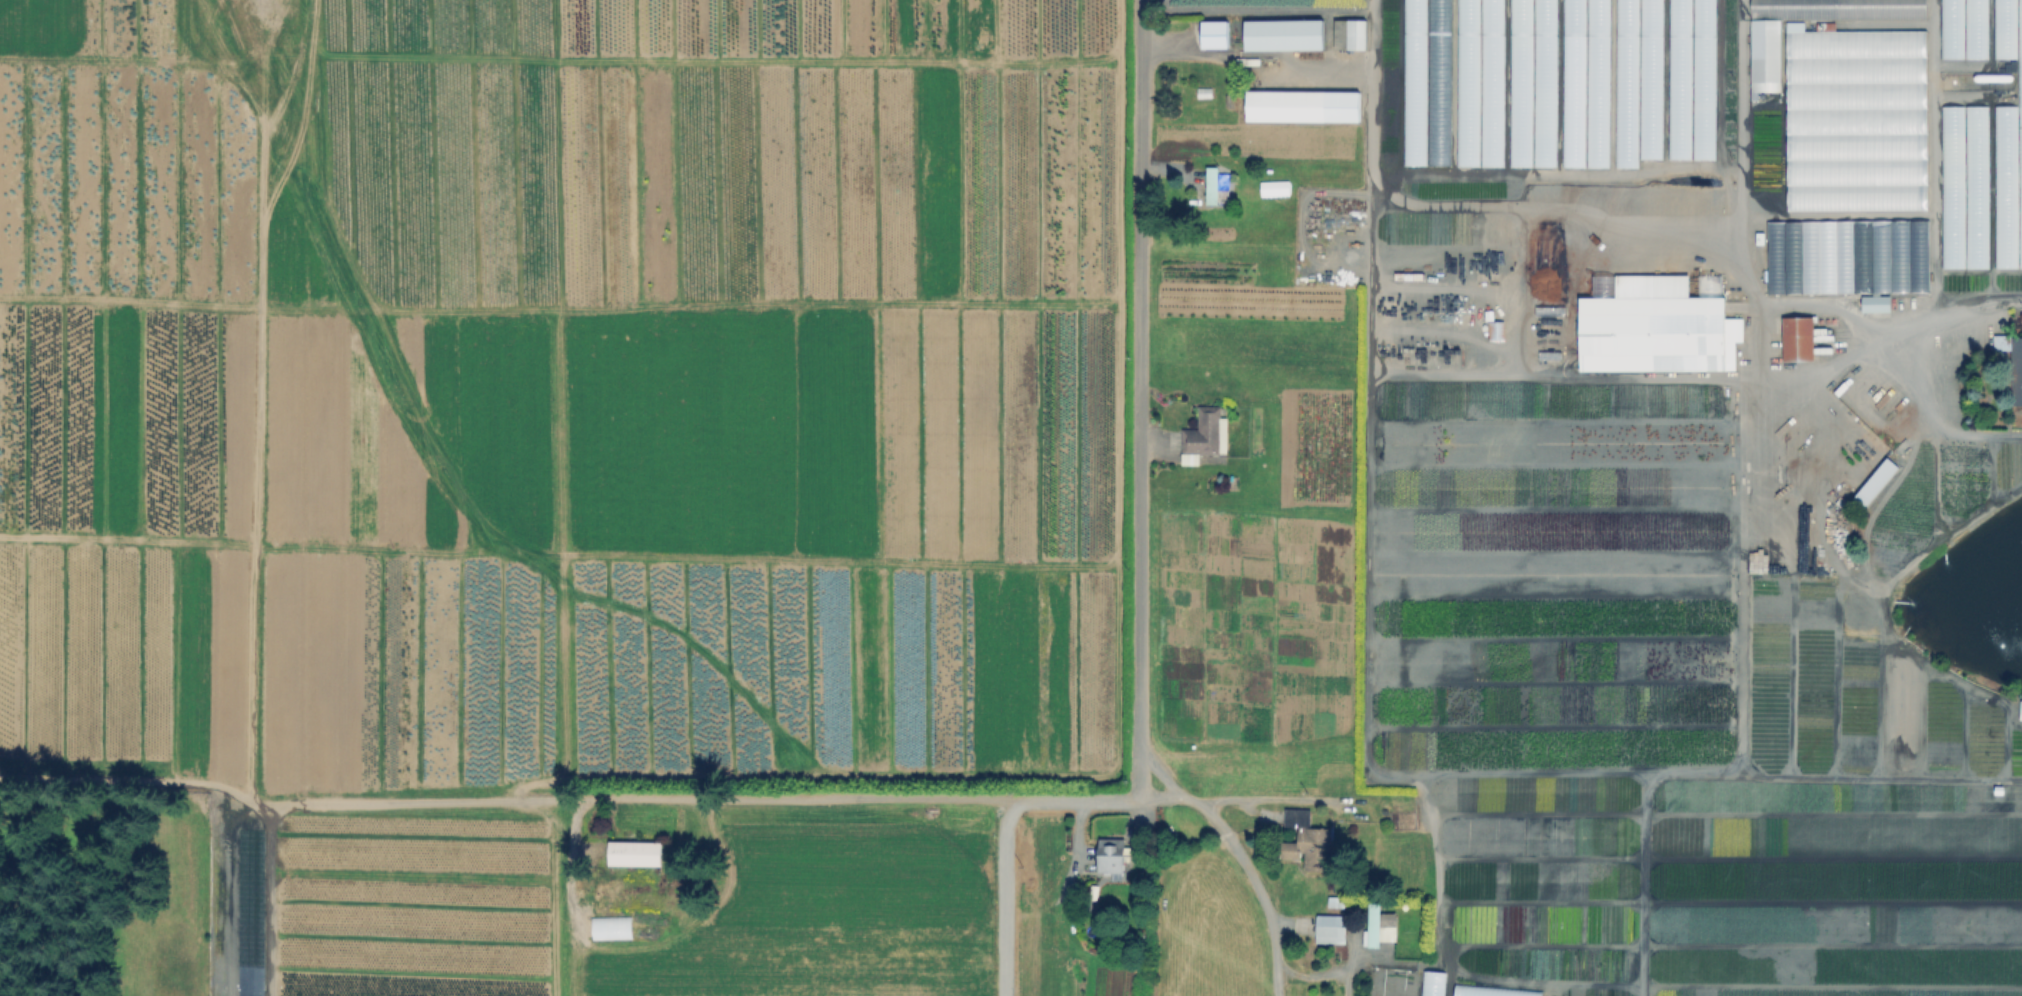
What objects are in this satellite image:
building: (1444, 5)
building: (1838, 9)
building: (1490, 15)
building: (1950, 28)
building: (1973, 28)
building: (2003, 29)
building: (1212, 33)
building: (1354, 33)
building: (1282, 34)
road: (1258, 52)
building: (1764, 55)
building: (1651, 61)
building: (1678, 79)
building: (1702, 79)
building: (1531, 82)
building: (1584, 83)
building: (1479, 95)
building: (1300, 105)
building: (1854, 119)
building: (2019, 128)
building: (1213, 186)
building: (1951, 186)
building: (1975, 186)
road: (1494, 206)
building: (1880, 281)
road: (1890, 300)
building: (1874, 303)
building: (1625, 326)
building: (1499, 331)
building: (1799, 340)
building: (2019, 377)
road: (1139, 398)
building: (1203, 435)
building: (1876, 482)
building: (2021, 712)
road: (736, 797)
road: (1251, 798)
road: (1002, 835)
building: (1308, 842)
building: (633, 853)
building: (1109, 855)
road: (1245, 865)
building: (1338, 902)
building: (610, 926)
building: (1380, 927)
building: (1332, 928)
road: (1317, 976)
building: (1435, 983)
building: (1492, 992)

